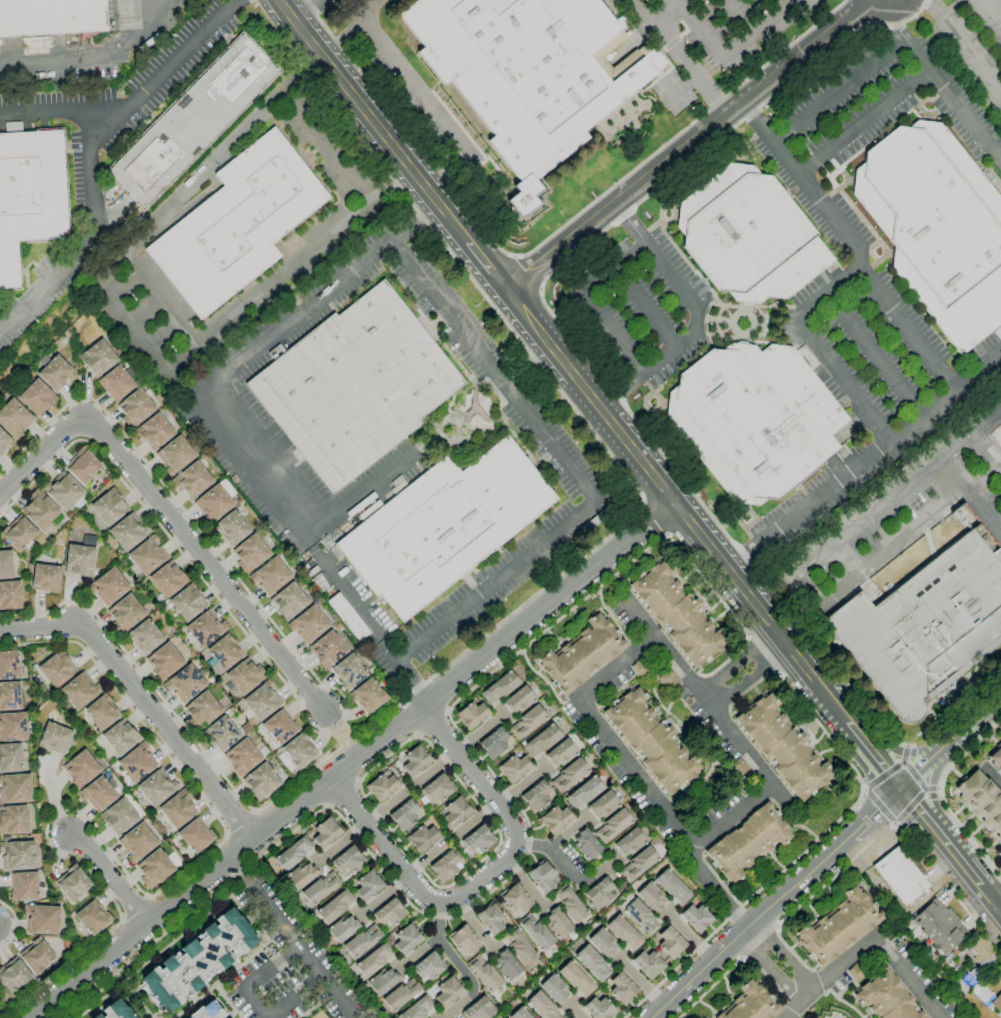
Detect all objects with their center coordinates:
road: (928, 2)
road: (780, 5)
road: (664, 8)
road: (308, 11)
road: (990, 13)
building: (50, 17)
road: (741, 17)
road: (896, 21)
road: (349, 28)
road: (897, 44)
road: (965, 47)
road: (733, 51)
road: (685, 54)
road: (94, 55)
road: (166, 67)
building: (530, 73)
road: (423, 106)
road: (41, 117)
road: (864, 118)
building: (192, 121)
road: (373, 122)
road: (689, 144)
road: (325, 147)
road: (202, 172)
building: (29, 195)
road: (646, 197)
building: (238, 223)
building: (937, 227)
road: (551, 234)
building: (748, 235)
road: (78, 237)
road: (854, 243)
road: (487, 266)
road: (253, 298)
road: (588, 298)
road: (163, 301)
road: (645, 303)
road: (696, 314)
road: (818, 348)
road: (253, 352)
building: (97, 358)
road: (882, 366)
building: (54, 371)
building: (116, 382)
building: (355, 385)
building: (36, 398)
building: (135, 408)
building: (14, 418)
building: (754, 419)
building: (154, 431)
building: (4, 442)
road: (986, 451)
building: (175, 454)
road: (50, 455)
road: (862, 460)
road: (1000, 465)
building: (82, 466)
road: (574, 468)
building: (191, 479)
building: (63, 491)
road: (357, 495)
building: (215, 501)
road: (676, 506)
building: (109, 507)
building: (39, 509)
road: (983, 509)
road: (655, 519)
building: (970, 524)
building: (444, 525)
building: (231, 528)
building: (128, 532)
building: (18, 533)
building: (250, 553)
building: (147, 555)
building: (81, 557)
building: (6, 564)
road: (214, 572)
road: (798, 574)
building: (270, 575)
building: (46, 578)
building: (168, 579)
building: (108, 586)
building: (10, 595)
road: (350, 597)
building: (289, 601)
road: (528, 601)
building: (188, 602)
building: (125, 613)
building: (677, 614)
building: (347, 617)
building: (308, 624)
building: (925, 626)
building: (205, 628)
building: (145, 636)
building: (327, 649)
building: (224, 652)
building: (582, 654)
building: (164, 661)
road: (505, 662)
road: (738, 662)
road: (624, 663)
building: (9, 665)
building: (640, 667)
building: (55, 669)
building: (350, 671)
building: (245, 676)
road: (748, 676)
building: (668, 679)
road: (409, 682)
building: (185, 683)
building: (500, 687)
building: (80, 690)
building: (10, 696)
building: (368, 696)
road: (141, 699)
building: (262, 700)
building: (519, 700)
building: (202, 710)
building: (102, 712)
road: (447, 712)
road: (346, 714)
building: (471, 715)
road: (970, 721)
road: (431, 722)
building: (527, 722)
building: (12, 726)
building: (280, 727)
road: (478, 732)
building: (222, 733)
road: (418, 735)
building: (120, 737)
building: (55, 738)
road: (992, 739)
building: (542, 740)
building: (651, 741)
building: (494, 743)
building: (783, 747)
building: (299, 750)
building: (561, 753)
road: (903, 753)
road: (874, 755)
building: (10, 757)
building: (242, 757)
building: (995, 758)
road: (352, 760)
building: (415, 760)
building: (137, 762)
building: (738, 767)
building: (80, 768)
building: (514, 768)
road: (920, 769)
road: (956, 773)
building: (569, 775)
road: (991, 775)
building: (261, 781)
road: (357, 784)
building: (157, 787)
building: (381, 787)
building: (437, 788)
building: (15, 789)
road: (931, 791)
building: (584, 792)
building: (98, 794)
road: (340, 794)
building: (536, 796)
road: (941, 796)
building: (981, 801)
building: (603, 804)
road: (328, 807)
road: (879, 807)
building: (178, 809)
road: (919, 810)
road: (958, 810)
building: (455, 811)
road: (875, 813)
building: (404, 815)
building: (119, 817)
building: (13, 819)
building: (555, 819)
road: (967, 820)
building: (613, 825)
road: (976, 830)
building: (326, 832)
road: (568, 833)
building: (195, 835)
building: (422, 838)
building: (478, 839)
road: (499, 841)
building: (137, 842)
building: (630, 842)
building: (748, 842)
road: (340, 843)
building: (586, 844)
road: (990, 847)
building: (293, 853)
building: (17, 855)
road: (995, 858)
building: (348, 860)
road: (959, 860)
building: (639, 863)
building: (446, 866)
building: (154, 868)
road: (566, 870)
building: (301, 875)
building: (542, 876)
building: (900, 876)
road: (108, 878)
road: (482, 879)
building: (72, 883)
road: (526, 883)
building: (367, 885)
building: (24, 886)
building: (320, 887)
building: (673, 887)
road: (146, 893)
building: (599, 893)
road: (383, 896)
building: (651, 896)
building: (516, 899)
road: (990, 899)
building: (570, 904)
building: (335, 906)
building: (889, 908)
building: (389, 913)
building: (640, 916)
building: (93, 917)
building: (491, 918)
building: (696, 918)
road: (785, 918)
building: (42, 919)
building: (557, 923)
road: (14, 924)
road: (474, 925)
building: (939, 925)
road: (748, 926)
building: (838, 927)
building: (343, 928)
building: (536, 932)
building: (624, 933)
road: (292, 937)
building: (407, 939)
building: (464, 940)
building: (362, 941)
building: (602, 942)
building: (670, 942)
road: (878, 945)
building: (519, 946)
building: (980, 949)
road: (418, 952)
road: (785, 954)
building: (36, 955)
building: (954, 955)
building: (376, 958)
building: (198, 959)
building: (592, 962)
road: (459, 964)
building: (648, 964)
building: (506, 965)
building: (428, 966)
road: (769, 968)
building: (957, 970)
building: (857, 971)
building: (485, 973)
building: (13, 975)
road: (255, 977)
building: (575, 978)
building: (970, 979)
building: (383, 981)
building: (959, 986)
building: (554, 988)
building: (622, 988)
building: (448, 991)
building: (402, 994)
road: (295, 996)
building: (986, 997)
building: (887, 998)
building: (751, 1004)
building: (542, 1006)
building: (417, 1008)
building: (599, 1008)
building: (479, 1009)
building: (117, 1011)
building: (207, 1011)
building: (519, 1013)
building: (97, 1016)
building: (570, 1017)
building: (571, 1017)

